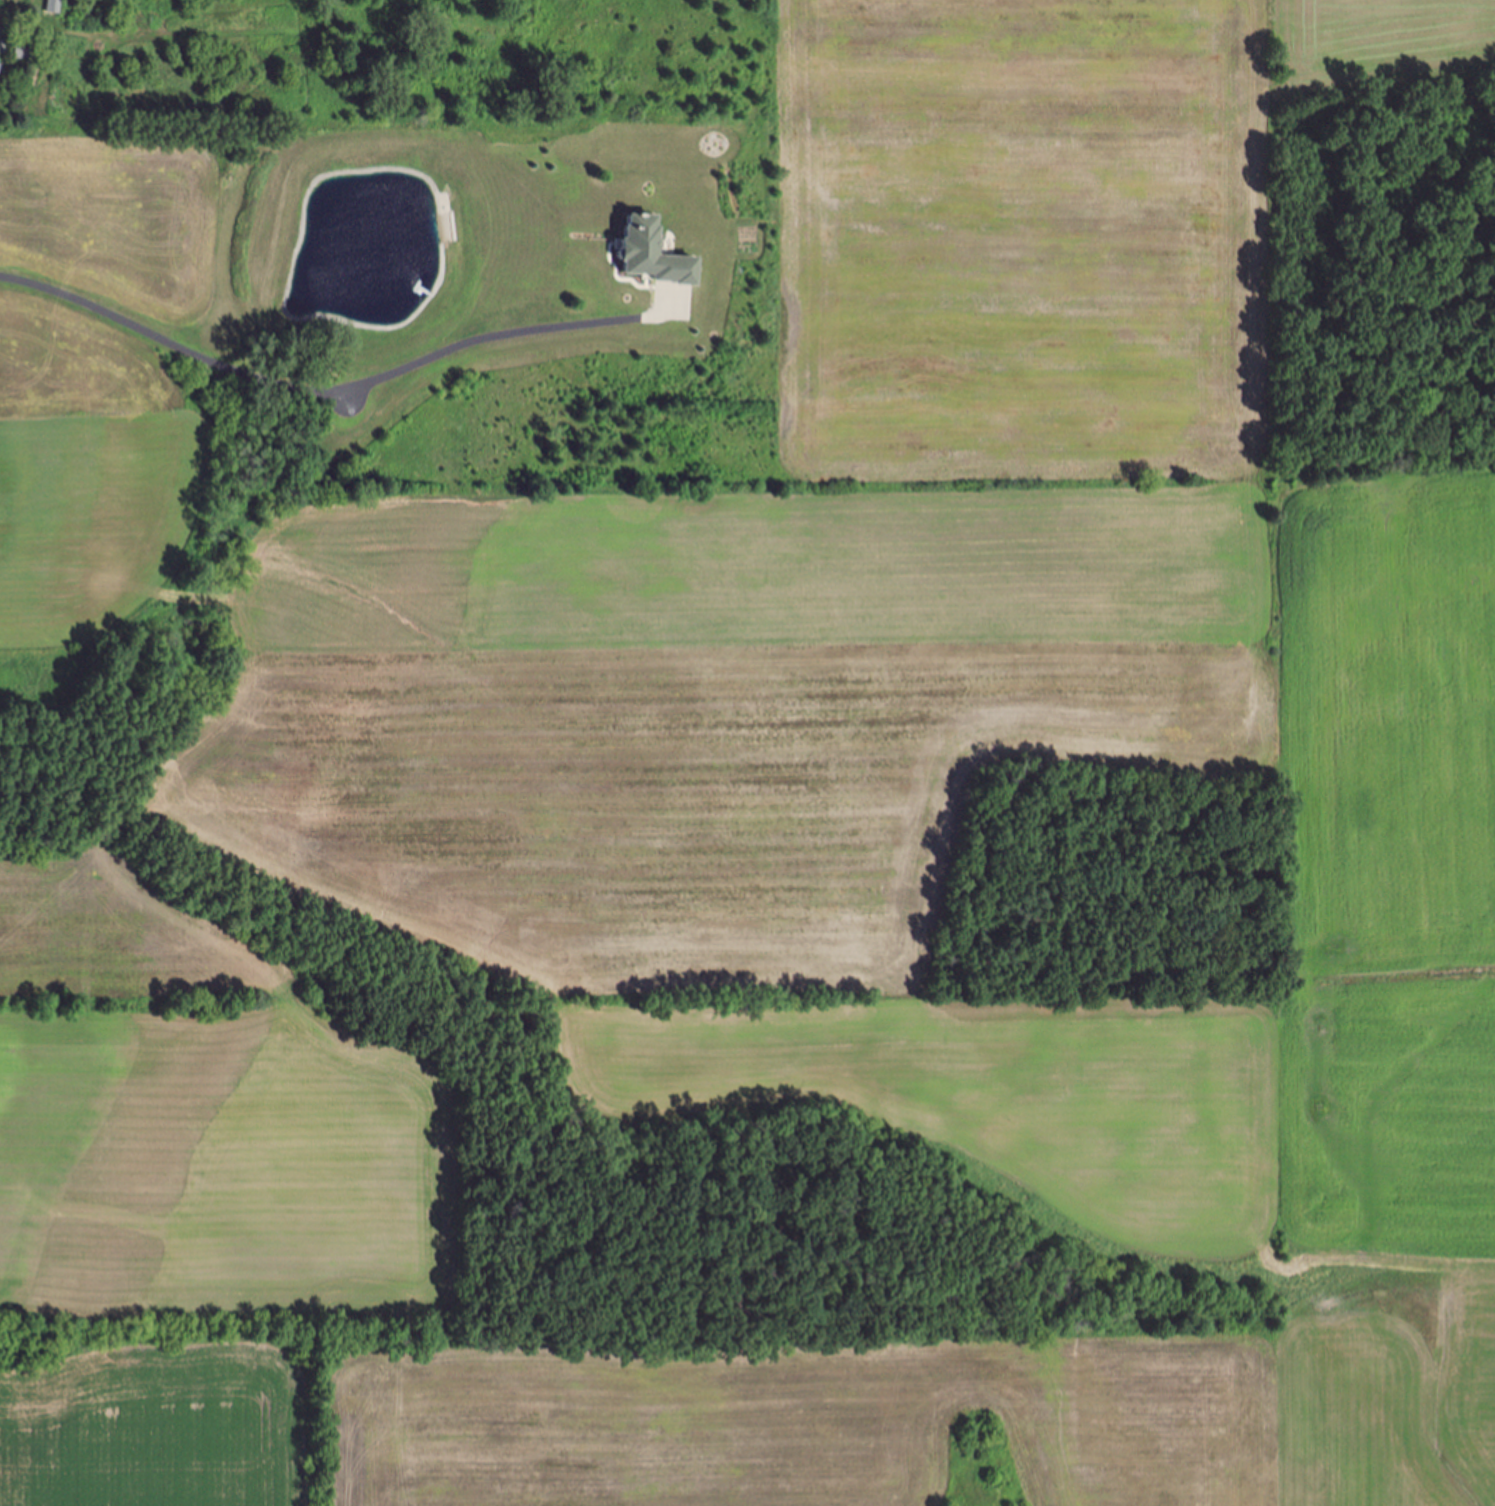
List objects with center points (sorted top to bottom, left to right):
building: (53, 6)
building: (23, 52)
building: (2, 72)
building: (651, 258)
road: (321, 402)
crop: (829, 865)

